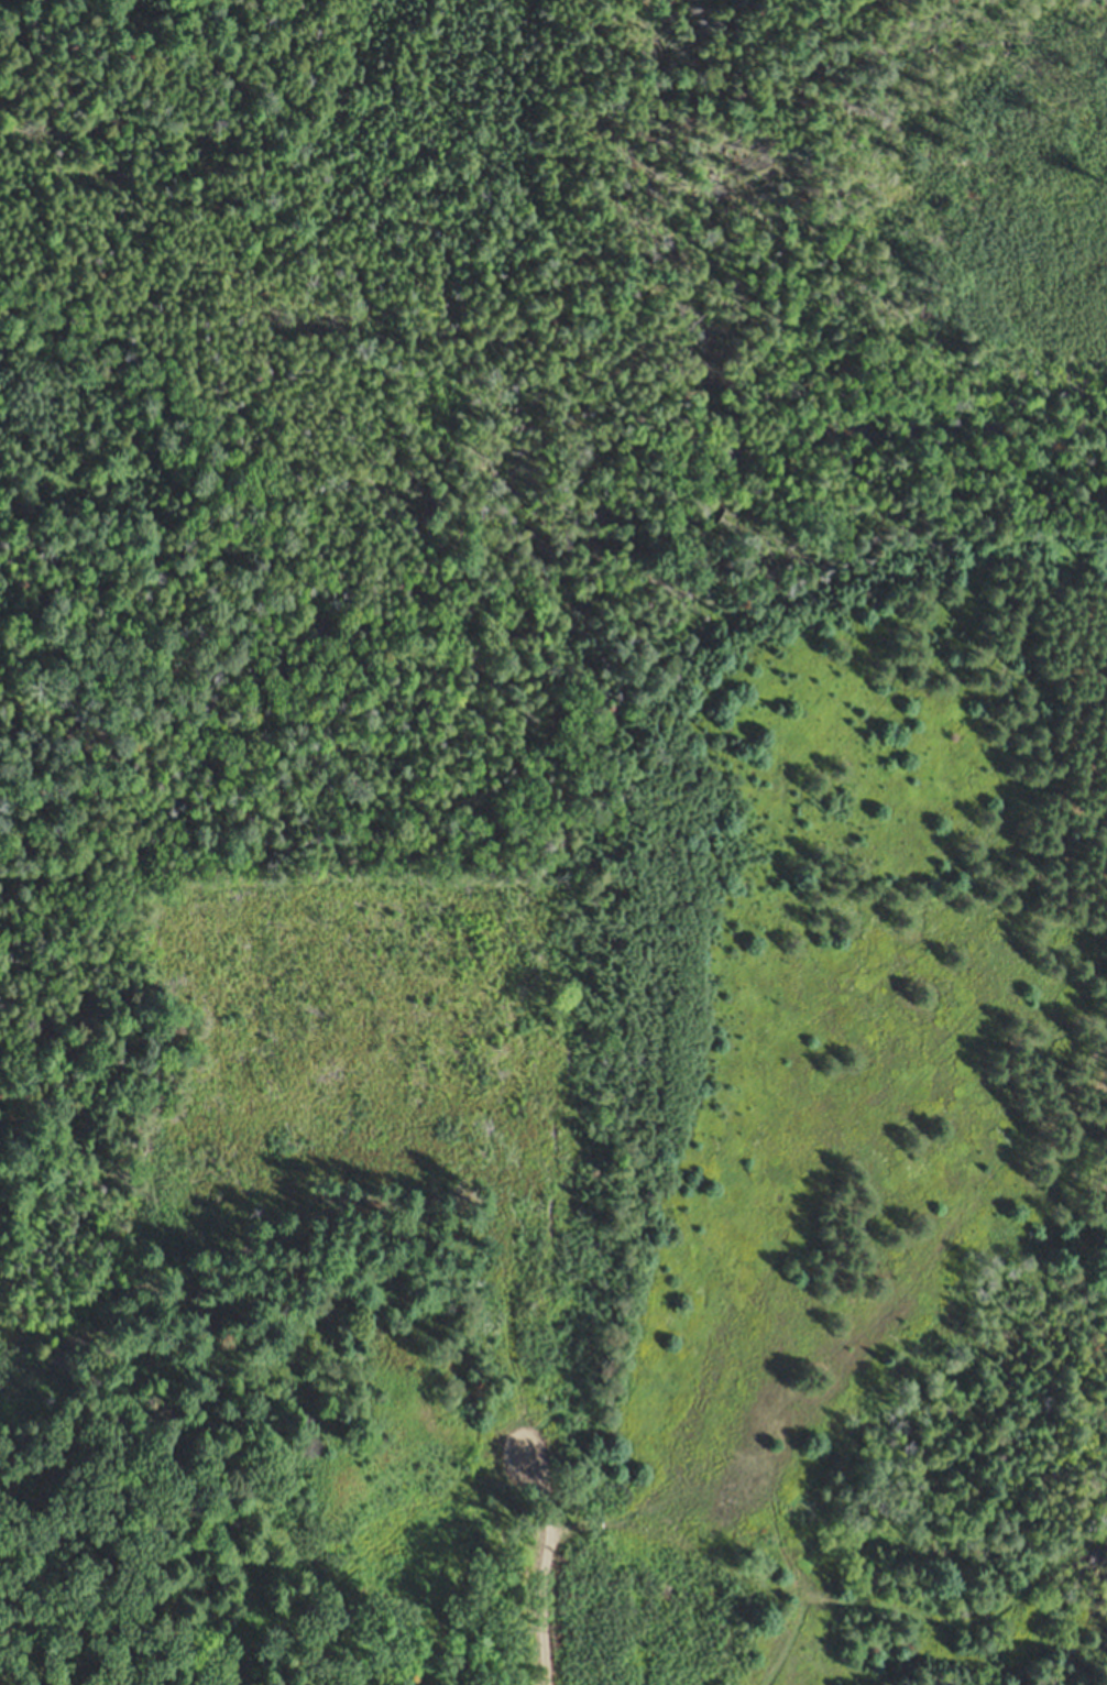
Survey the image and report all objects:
road: (447, 1276)
road: (782, 1590)
road: (530, 1610)

